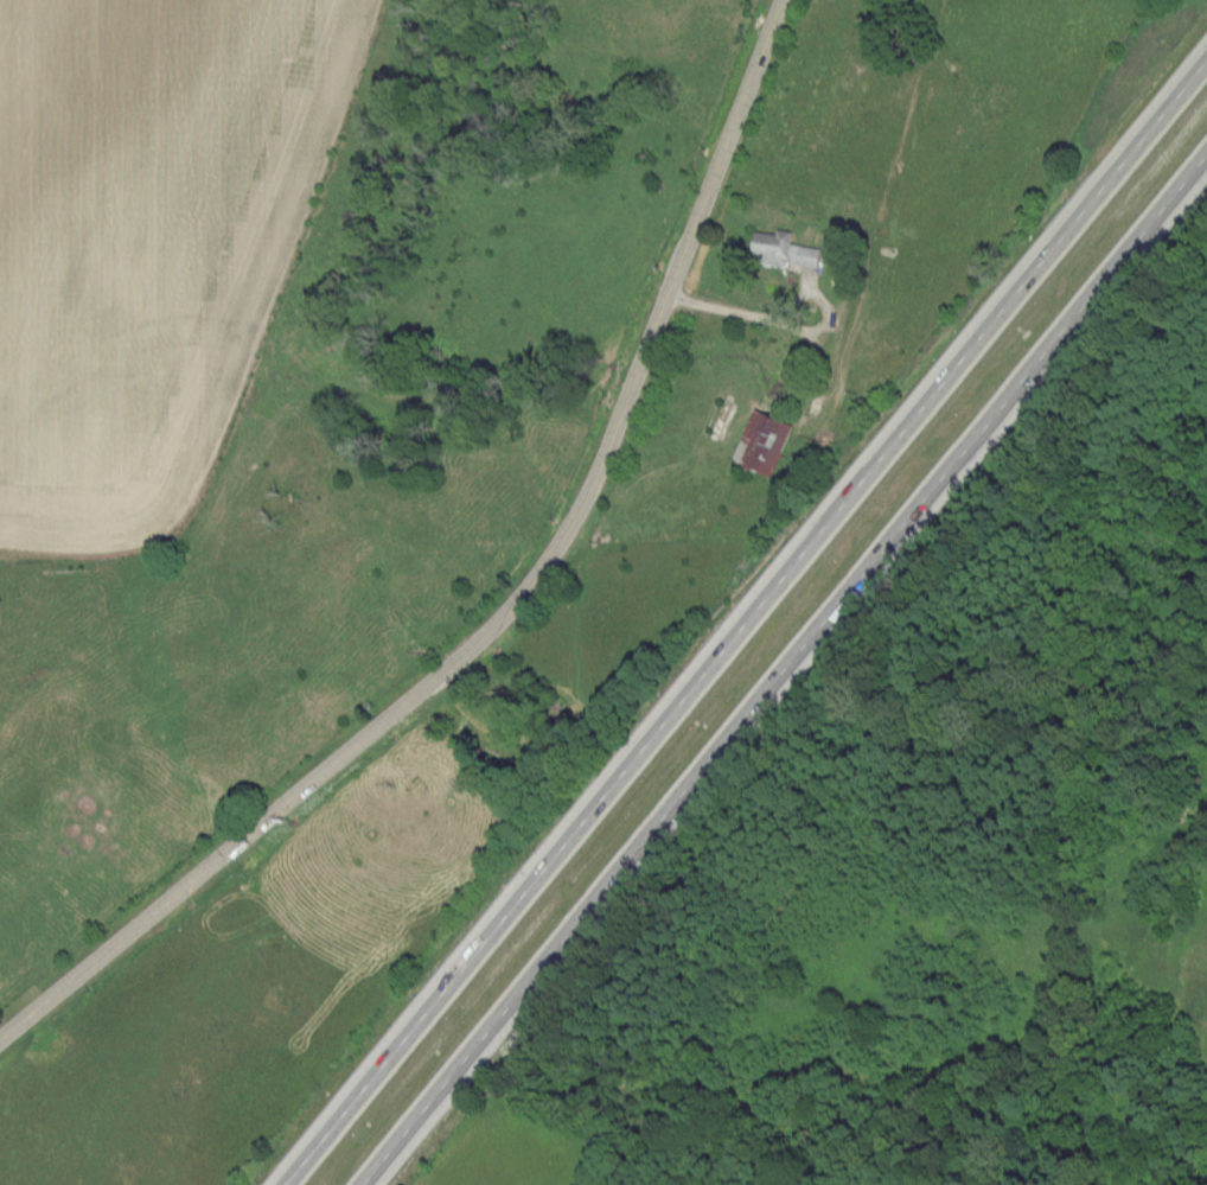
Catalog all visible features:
building: (784, 249)
road: (779, 317)
building: (762, 441)
road: (506, 605)
road: (745, 622)
road: (783, 668)

